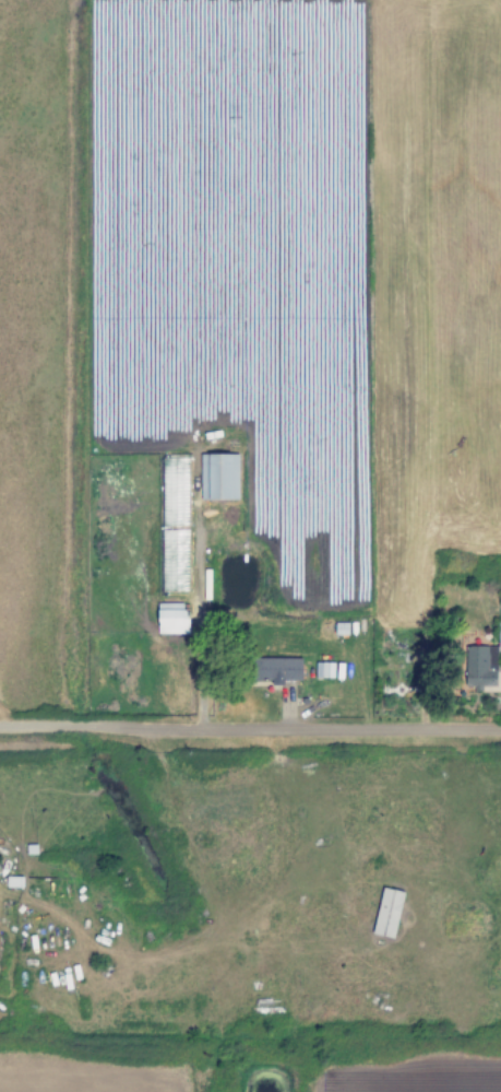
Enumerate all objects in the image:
building: (218, 477)
building: (171, 618)
building: (499, 637)
building: (276, 669)
building: (481, 669)
road: (250, 730)
building: (387, 913)

